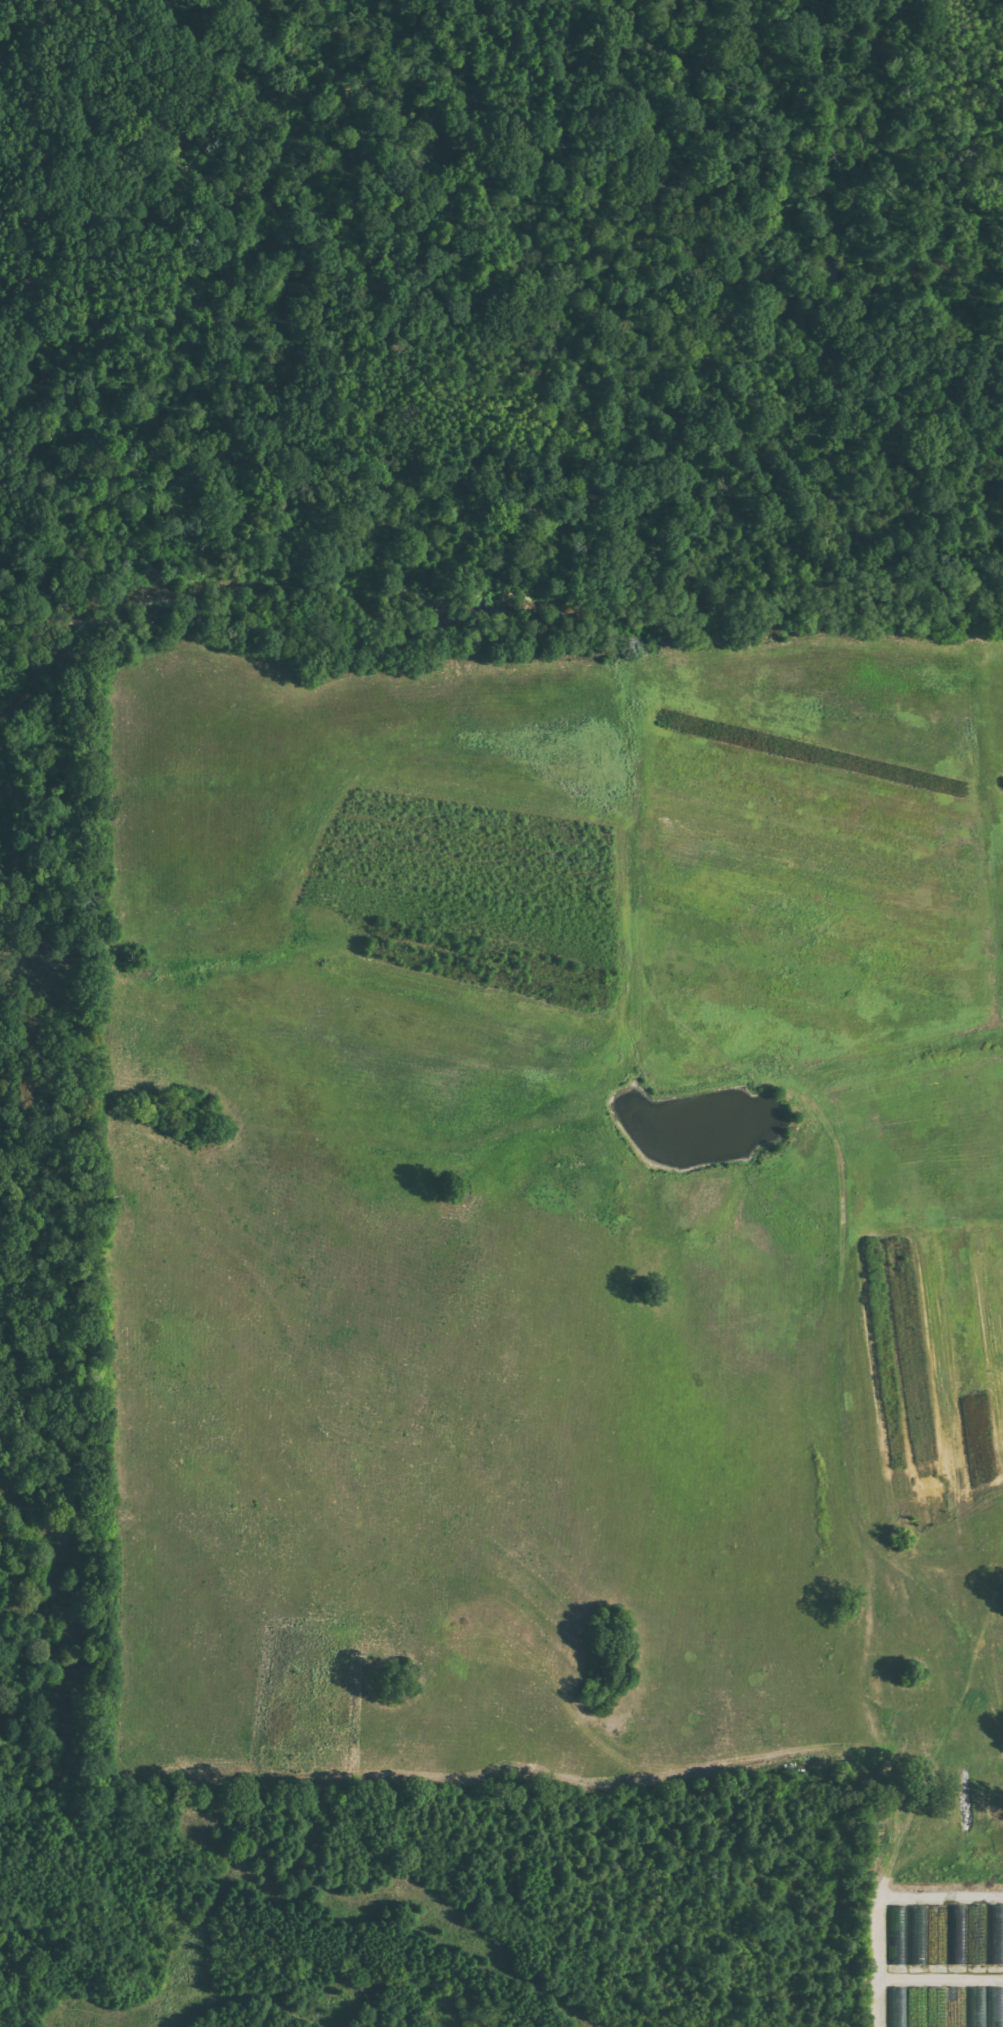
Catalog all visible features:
road: (882, 1905)
building: (945, 1934)
building: (945, 2006)

